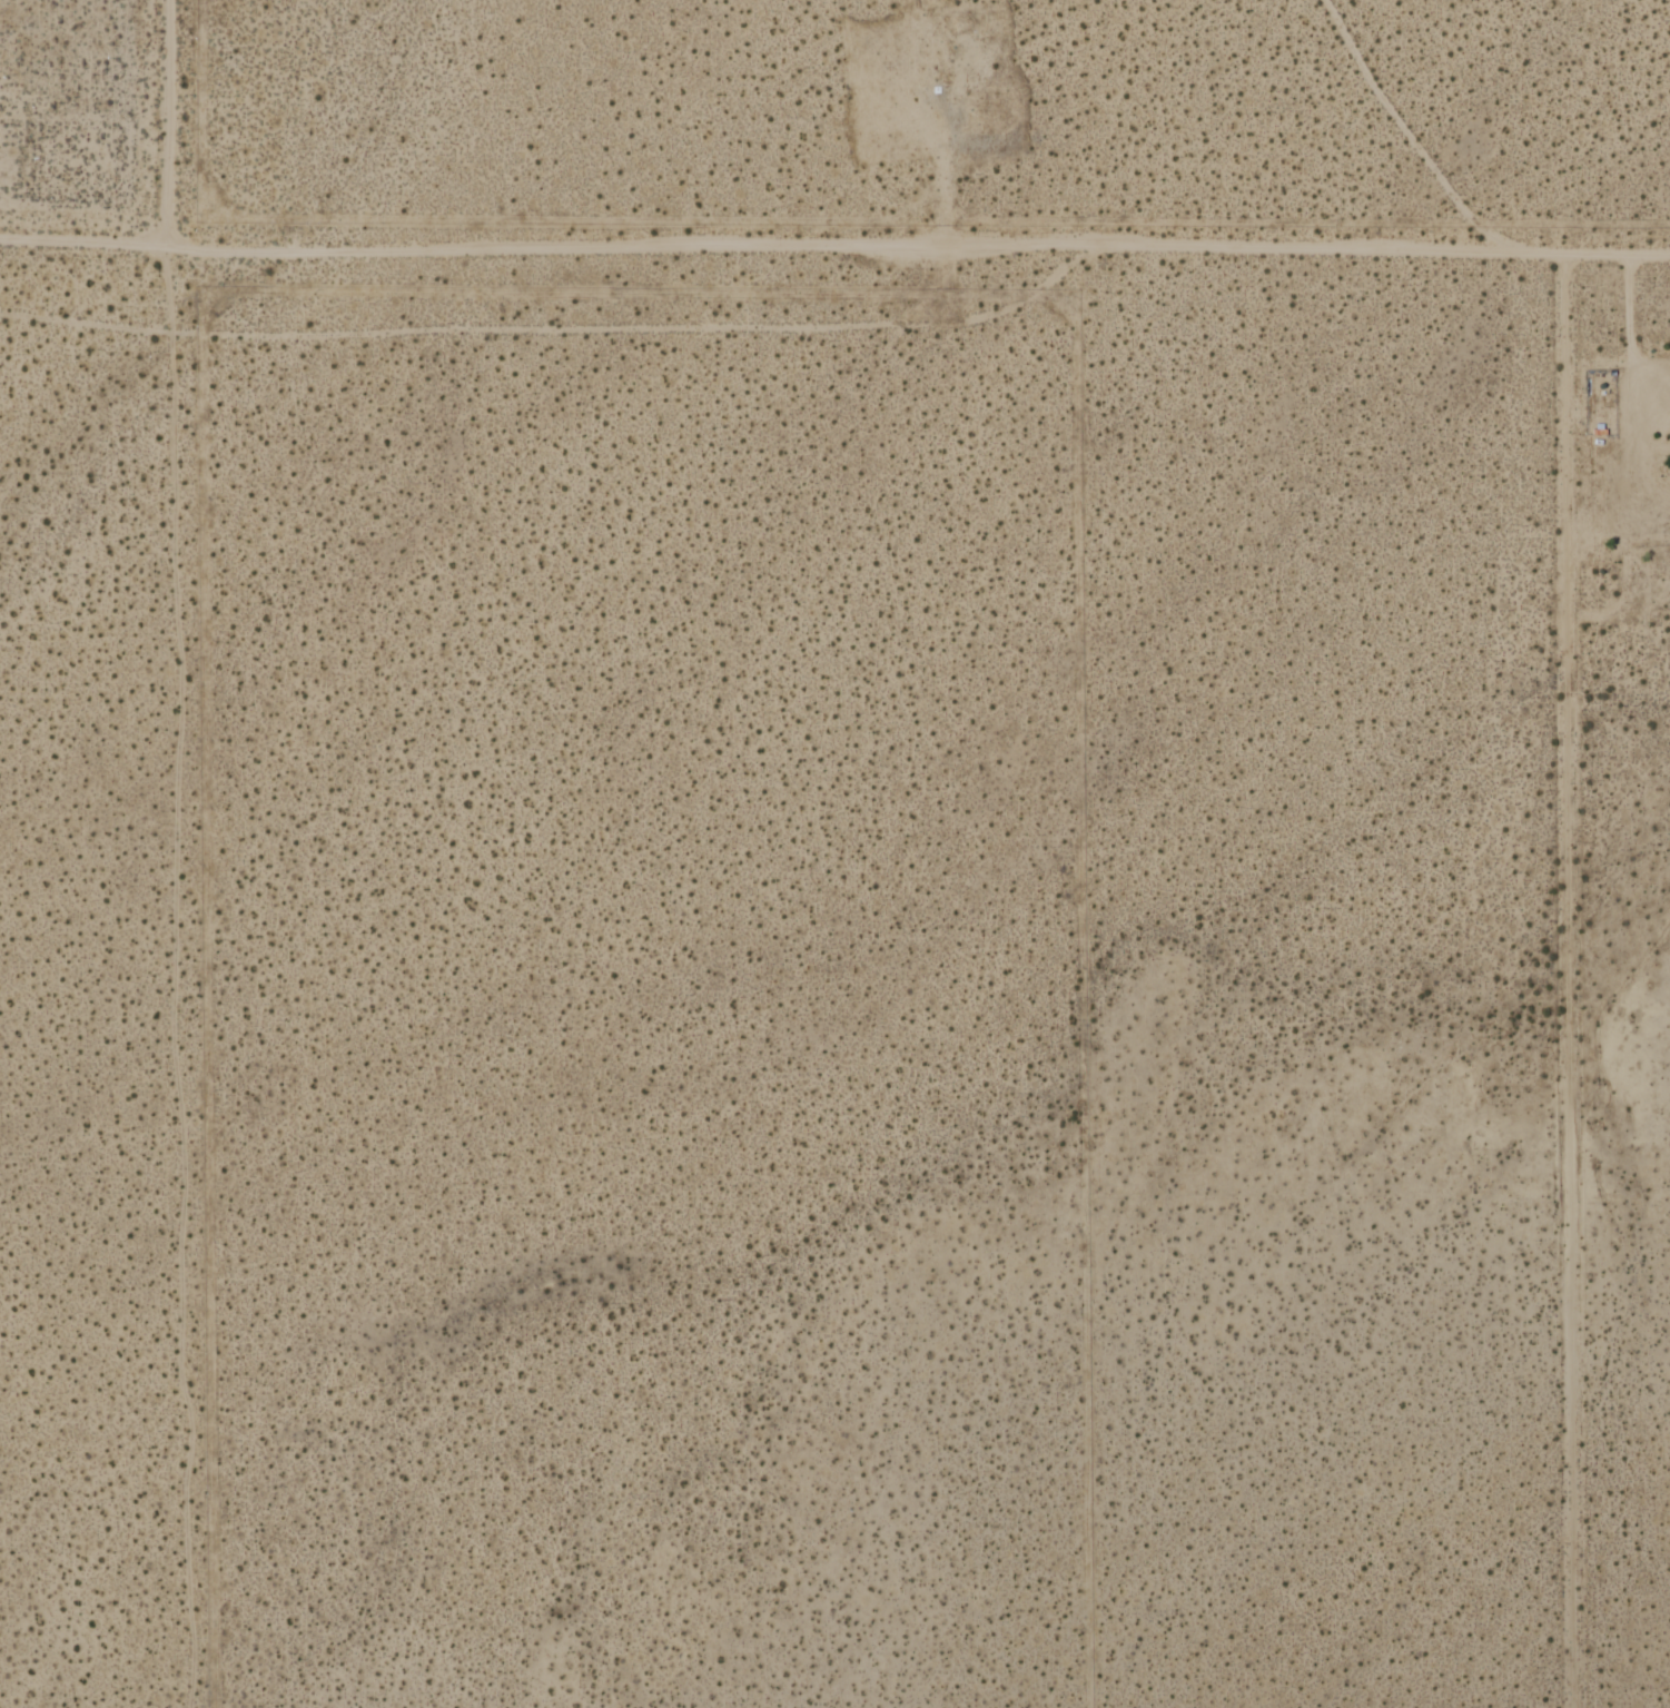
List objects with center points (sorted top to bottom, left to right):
road: (168, 122)
road: (1410, 136)
road: (82, 204)
road: (834, 247)

